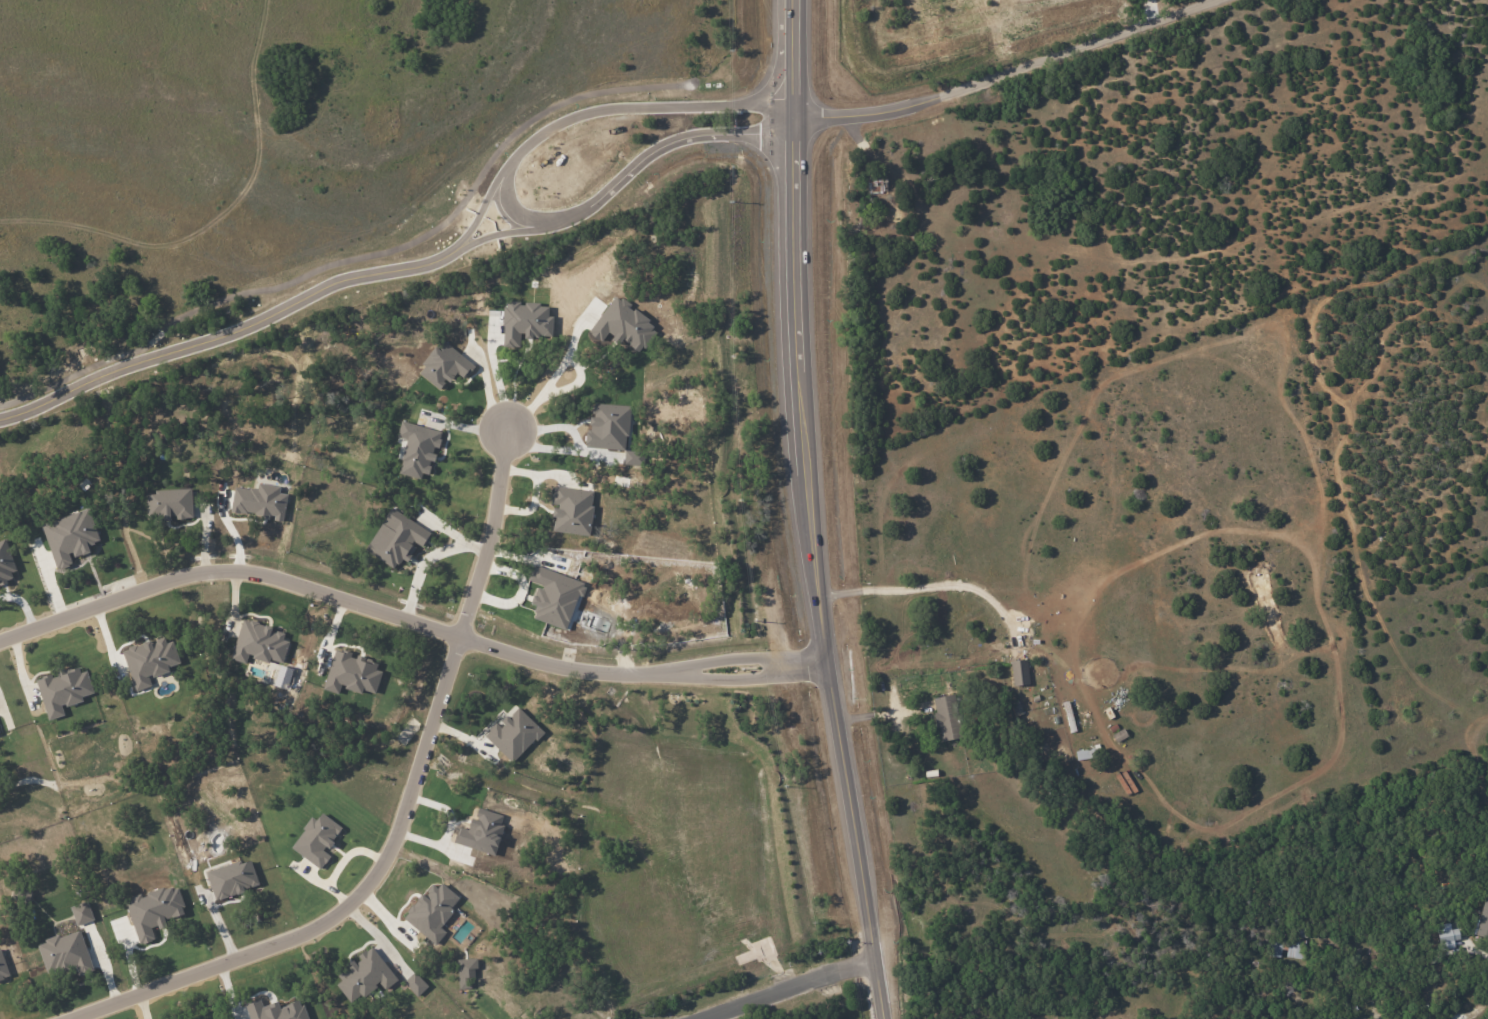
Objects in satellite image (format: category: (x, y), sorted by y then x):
road: (640, 4)
road: (1004, 74)
road: (426, 87)
road: (588, 110)
road: (656, 145)
building: (874, 185)
road: (463, 228)
road: (472, 237)
road: (199, 238)
road: (792, 297)
road: (199, 338)
road: (498, 381)
road: (550, 382)
building: (169, 503)
road: (489, 535)
building: (396, 538)
road: (926, 588)
road: (405, 620)
building: (1019, 672)
building: (63, 690)
building: (945, 717)
road: (850, 807)
building: (315, 839)
road: (343, 906)
building: (1481, 921)
building: (1447, 934)
building: (1286, 948)
building: (363, 975)
building: (415, 984)
road: (787, 988)
road: (1472, 1009)

